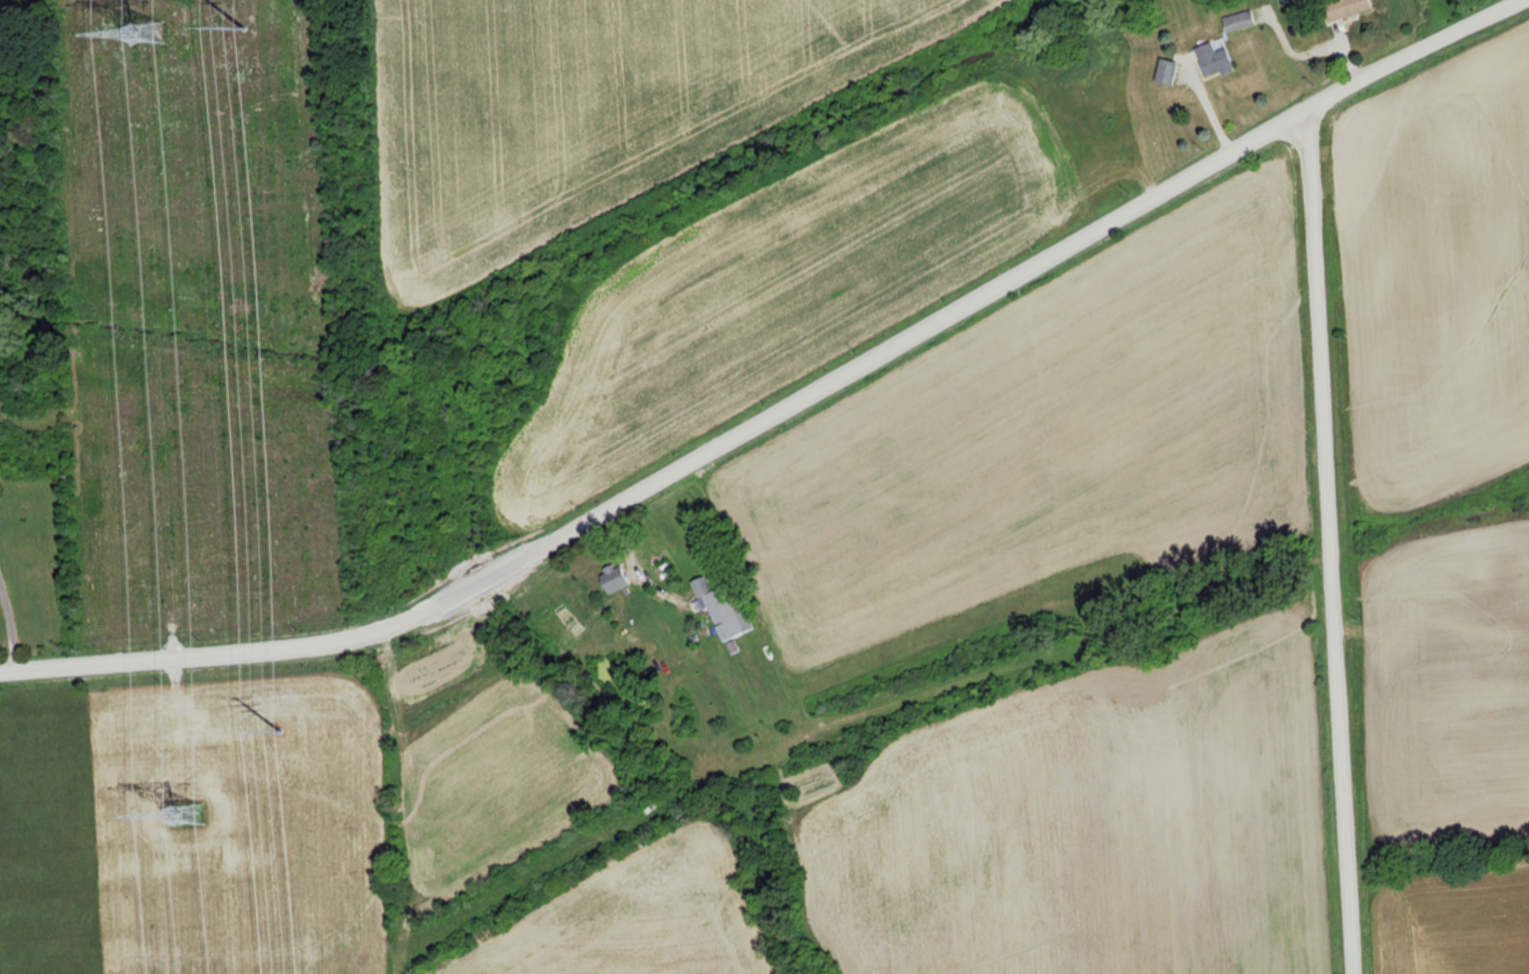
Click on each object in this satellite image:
building: (1343, 8)
building: (1238, 20)
power tower: (143, 25)
power tower: (258, 34)
building: (1212, 57)
road: (785, 407)
road: (1324, 545)
building: (612, 577)
building: (724, 608)
road: (11, 624)
power tower: (295, 733)
power tower: (184, 811)

